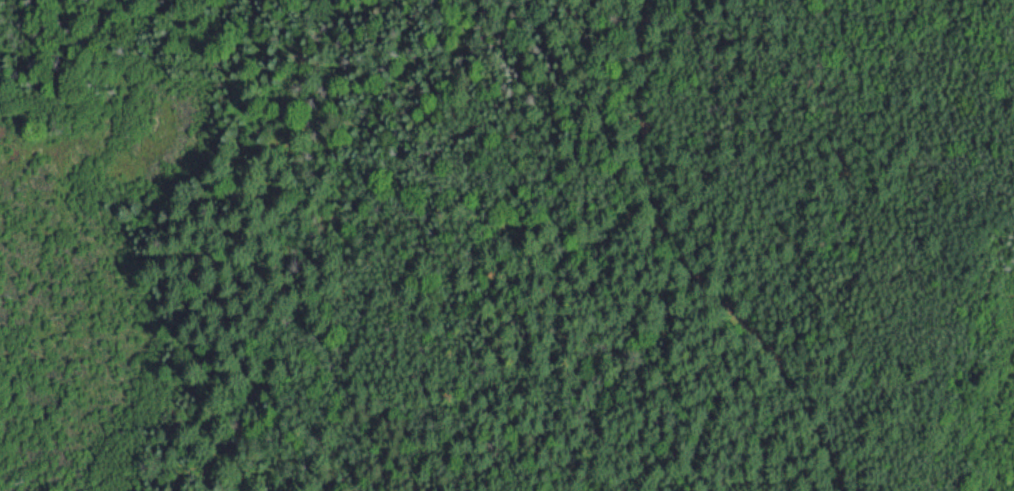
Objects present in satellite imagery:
road: (697, 263)

